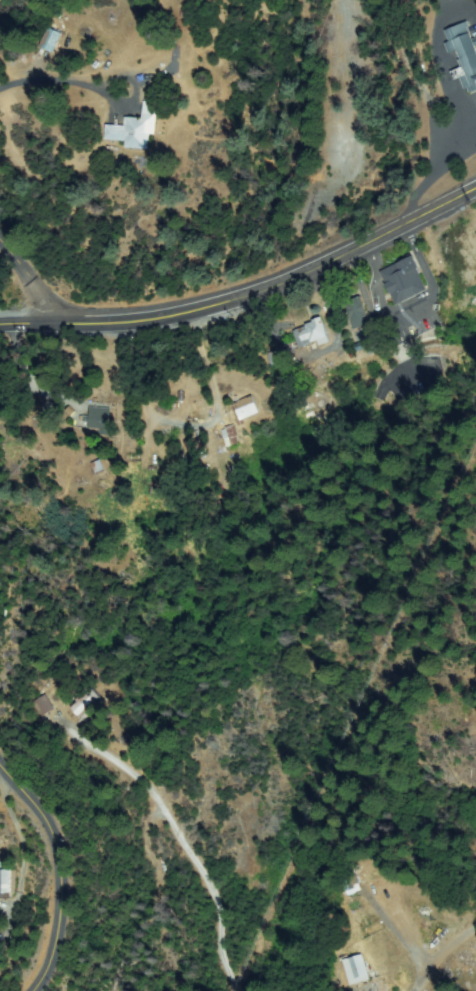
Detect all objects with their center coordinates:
building: (51, 40)
building: (464, 53)
building: (136, 128)
building: (475, 230)
road: (30, 281)
building: (405, 281)
road: (248, 294)
building: (358, 313)
building: (311, 333)
building: (280, 362)
building: (244, 409)
building: (100, 420)
building: (233, 435)
building: (195, 449)
road: (466, 464)
building: (86, 702)
building: (43, 706)
road: (52, 879)
building: (8, 883)
building: (351, 883)
building: (356, 969)

